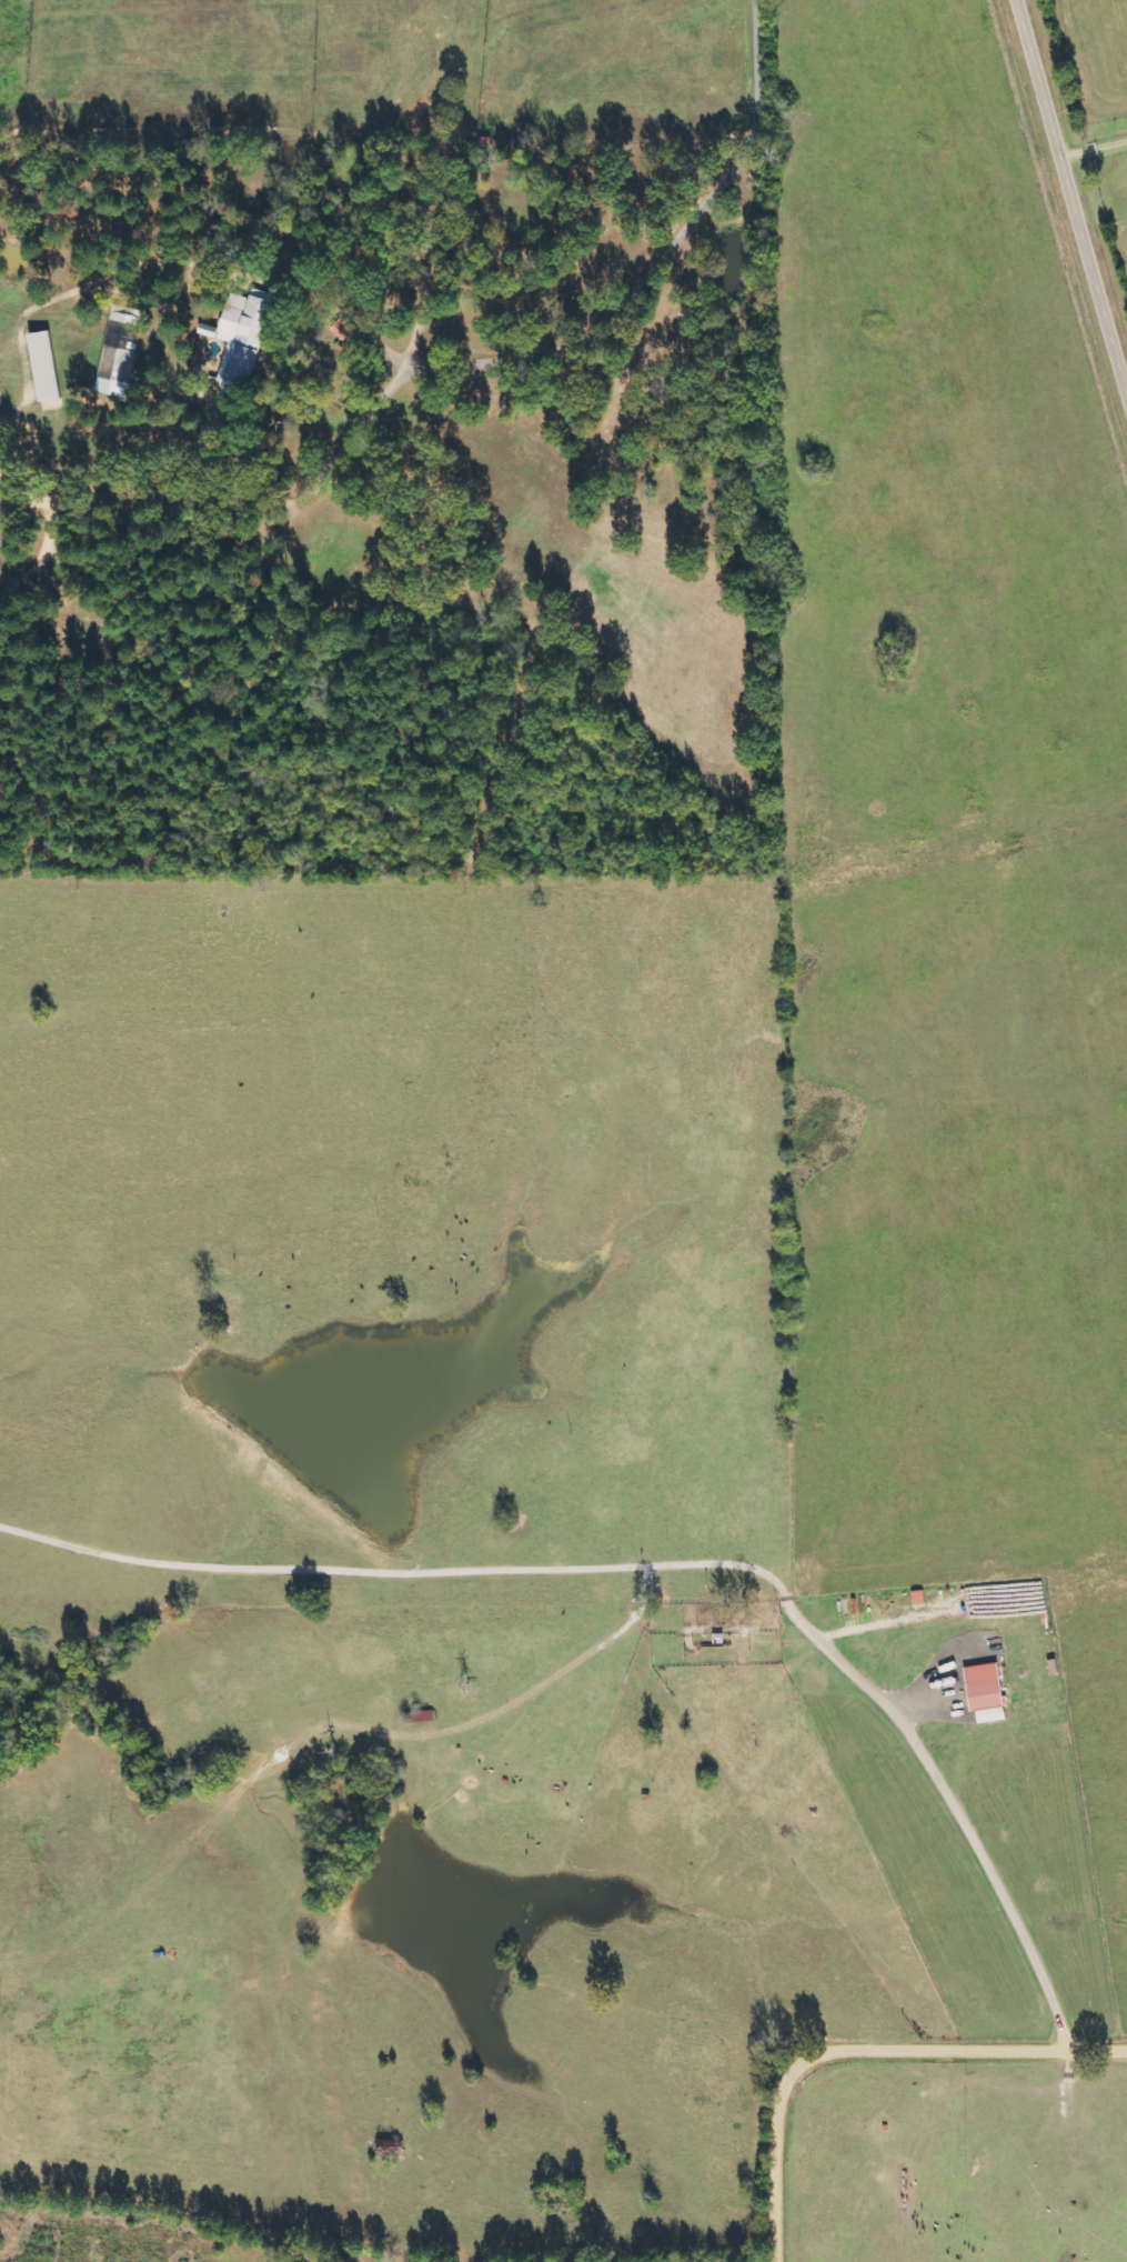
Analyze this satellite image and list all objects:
road: (1071, 188)
building: (342, 330)
building: (242, 338)
building: (120, 351)
building: (348, 351)
building: (43, 369)
building: (984, 1688)
road: (864, 2055)

